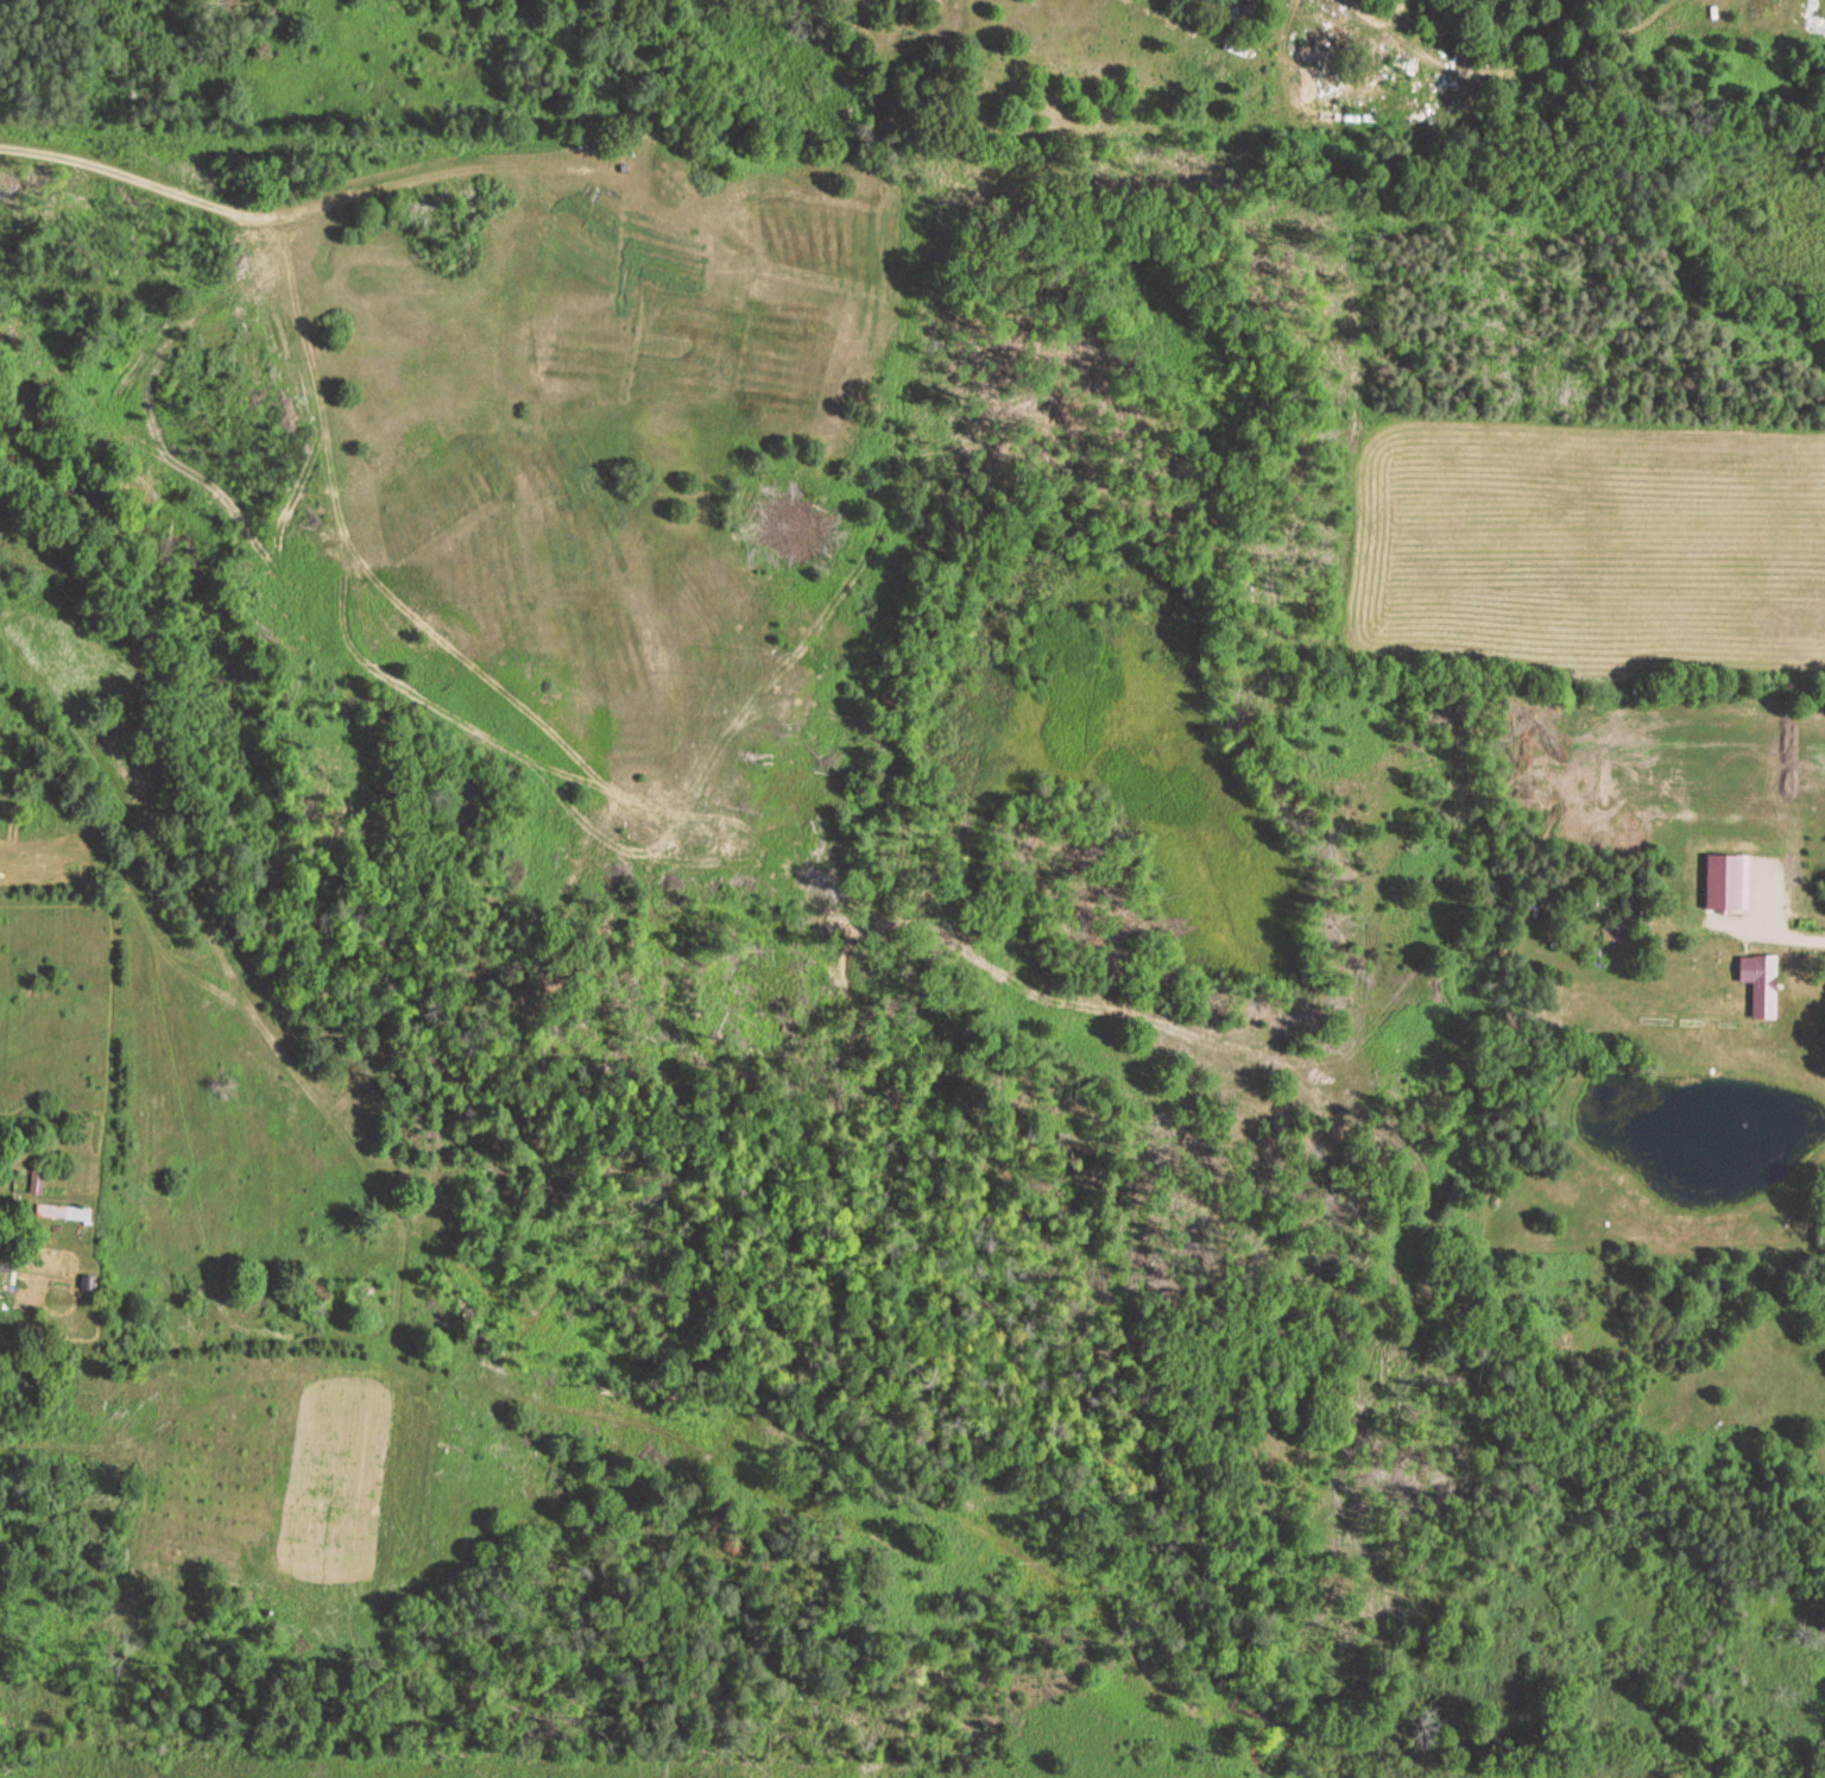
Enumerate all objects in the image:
road: (343, 156)
building: (1728, 883)
building: (1755, 986)
building: (81, 1215)

